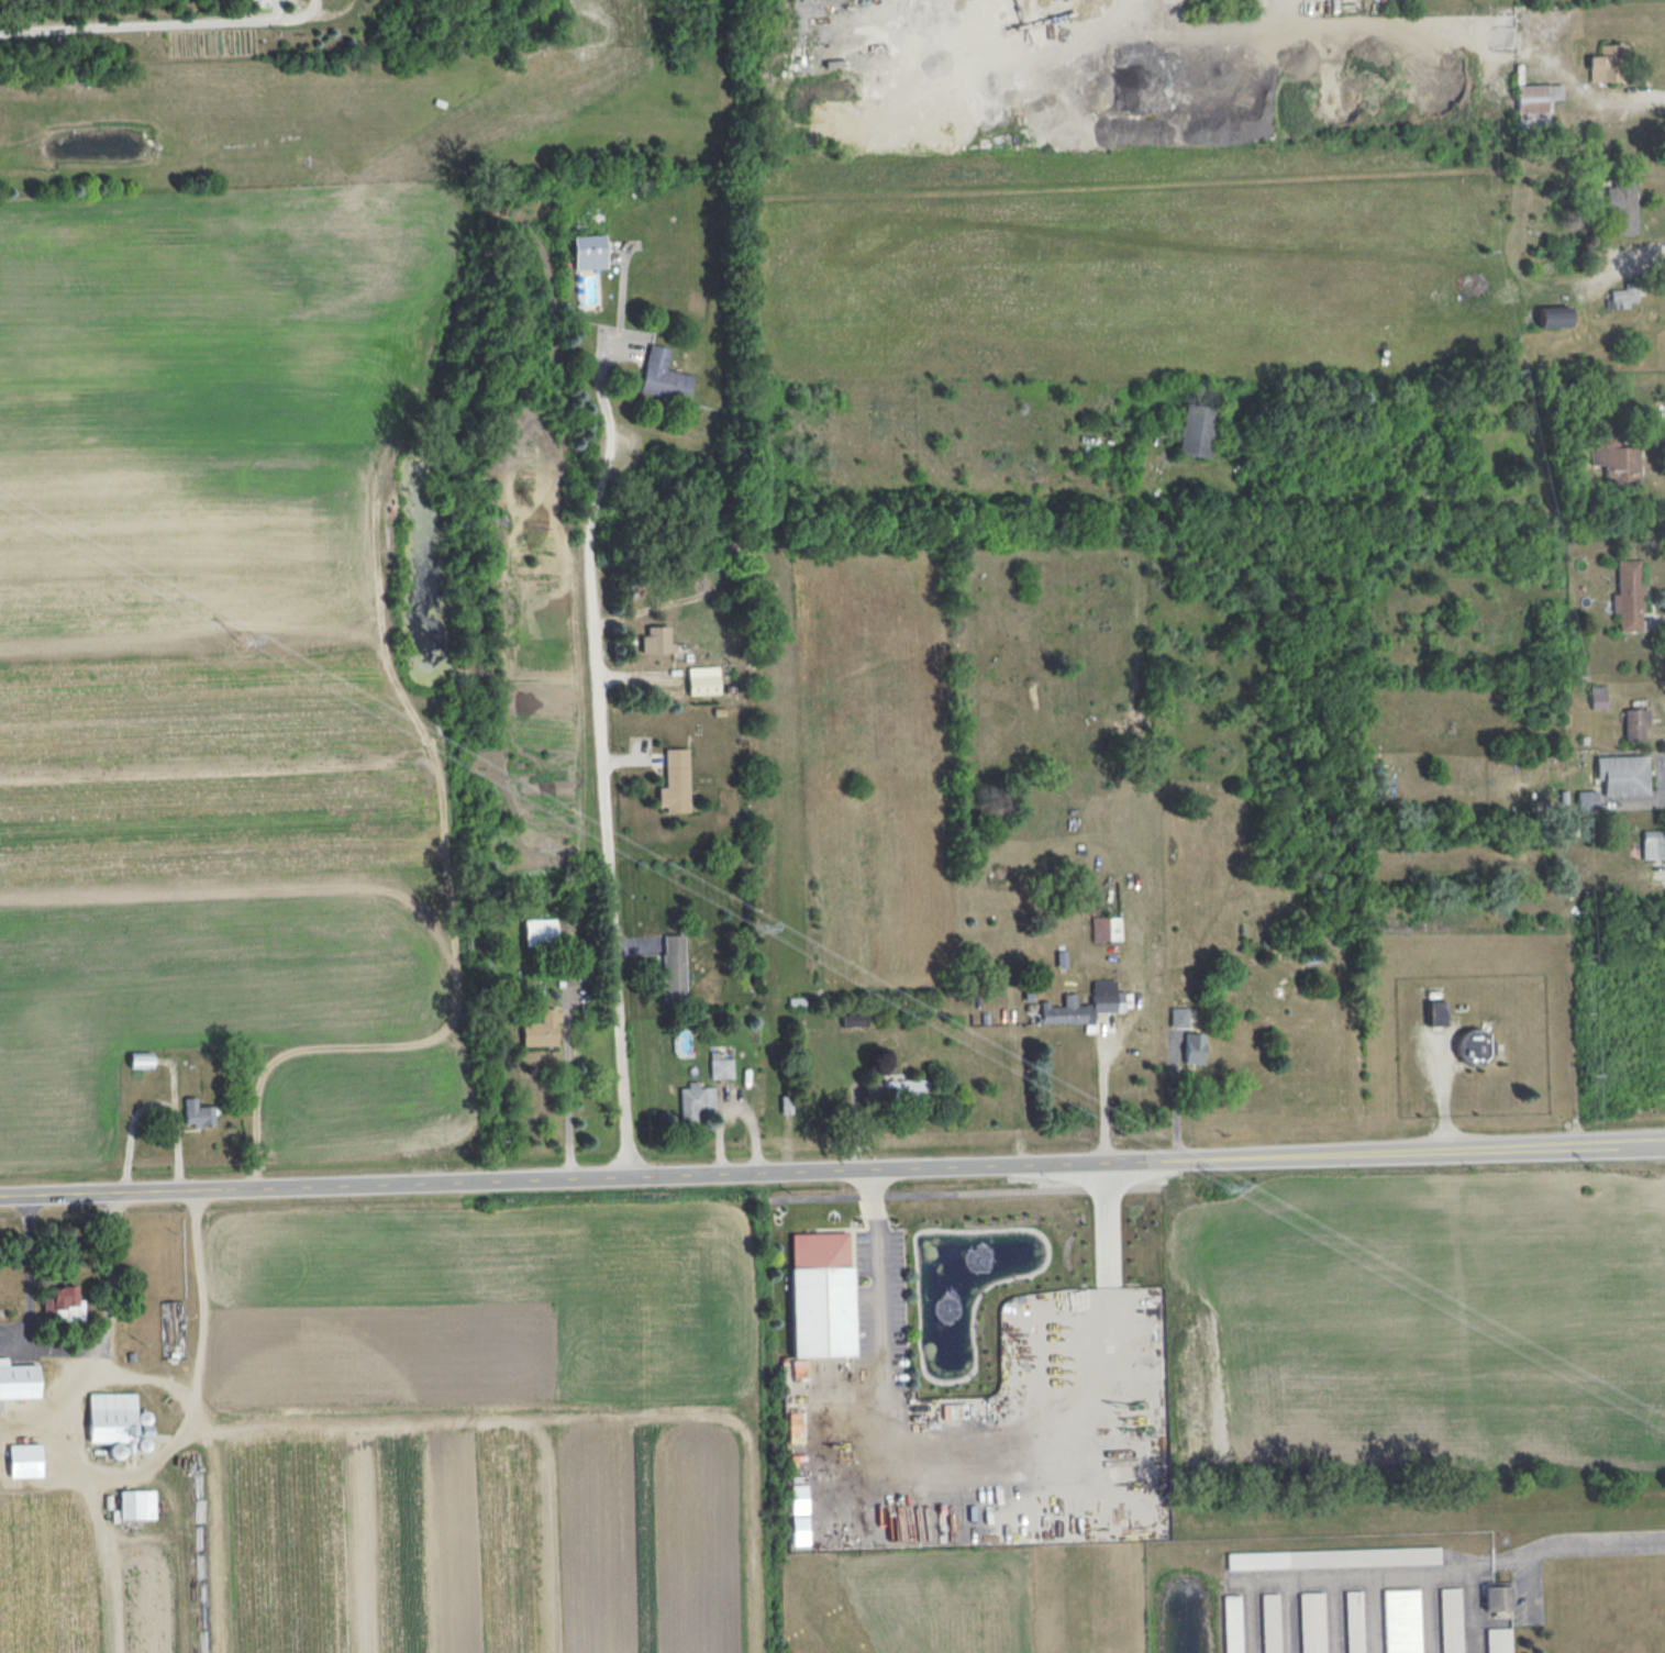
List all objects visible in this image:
road: (121, 25)
building: (1606, 63)
road: (1644, 93)
building: (1534, 103)
building: (1621, 208)
building: (589, 252)
road: (1640, 252)
road: (619, 295)
building: (1620, 297)
building: (1553, 317)
building: (663, 376)
road: (596, 385)
building: (1195, 429)
building: (1617, 462)
building: (1627, 595)
building: (655, 640)
power tower: (241, 642)
building: (702, 680)
building: (1597, 696)
building: (1634, 722)
building: (1583, 739)
building: (1622, 774)
road: (1664, 779)
building: (674, 781)
building: (1586, 800)
road: (603, 807)
building: (1651, 844)
power tower: (754, 924)
building: (1106, 928)
building: (539, 932)
building: (673, 967)
building: (1435, 1012)
building: (1178, 1018)
building: (854, 1019)
building: (541, 1029)
building: (1472, 1044)
building: (1194, 1047)
building: (140, 1060)
building: (720, 1066)
building: (903, 1086)
road: (566, 1091)
road: (1103, 1092)
road: (155, 1101)
building: (695, 1101)
building: (197, 1113)
road: (832, 1168)
power tower: (1222, 1189)
road: (27, 1272)
road: (876, 1279)
building: (820, 1294)
building: (62, 1303)
road: (202, 1309)
road: (106, 1363)
building: (15, 1379)
building: (0, 1405)
road: (486, 1415)
building: (109, 1417)
road: (1106, 1431)
building: (22, 1451)
building: (798, 1498)
building: (136, 1504)
building: (799, 1530)
building: (1332, 1557)
road: (1451, 1571)
airport runway: (1077, 1578)
airport: (979, 1588)
building: (1496, 1596)
road: (1472, 1609)
road: (1244, 1616)
building: (1450, 1620)
building: (1353, 1621)
building: (1400, 1621)
building: (1311, 1622)
building: (1232, 1623)
building: (1269, 1623)
airport runway: (821, 1635)
building: (1498, 1640)

